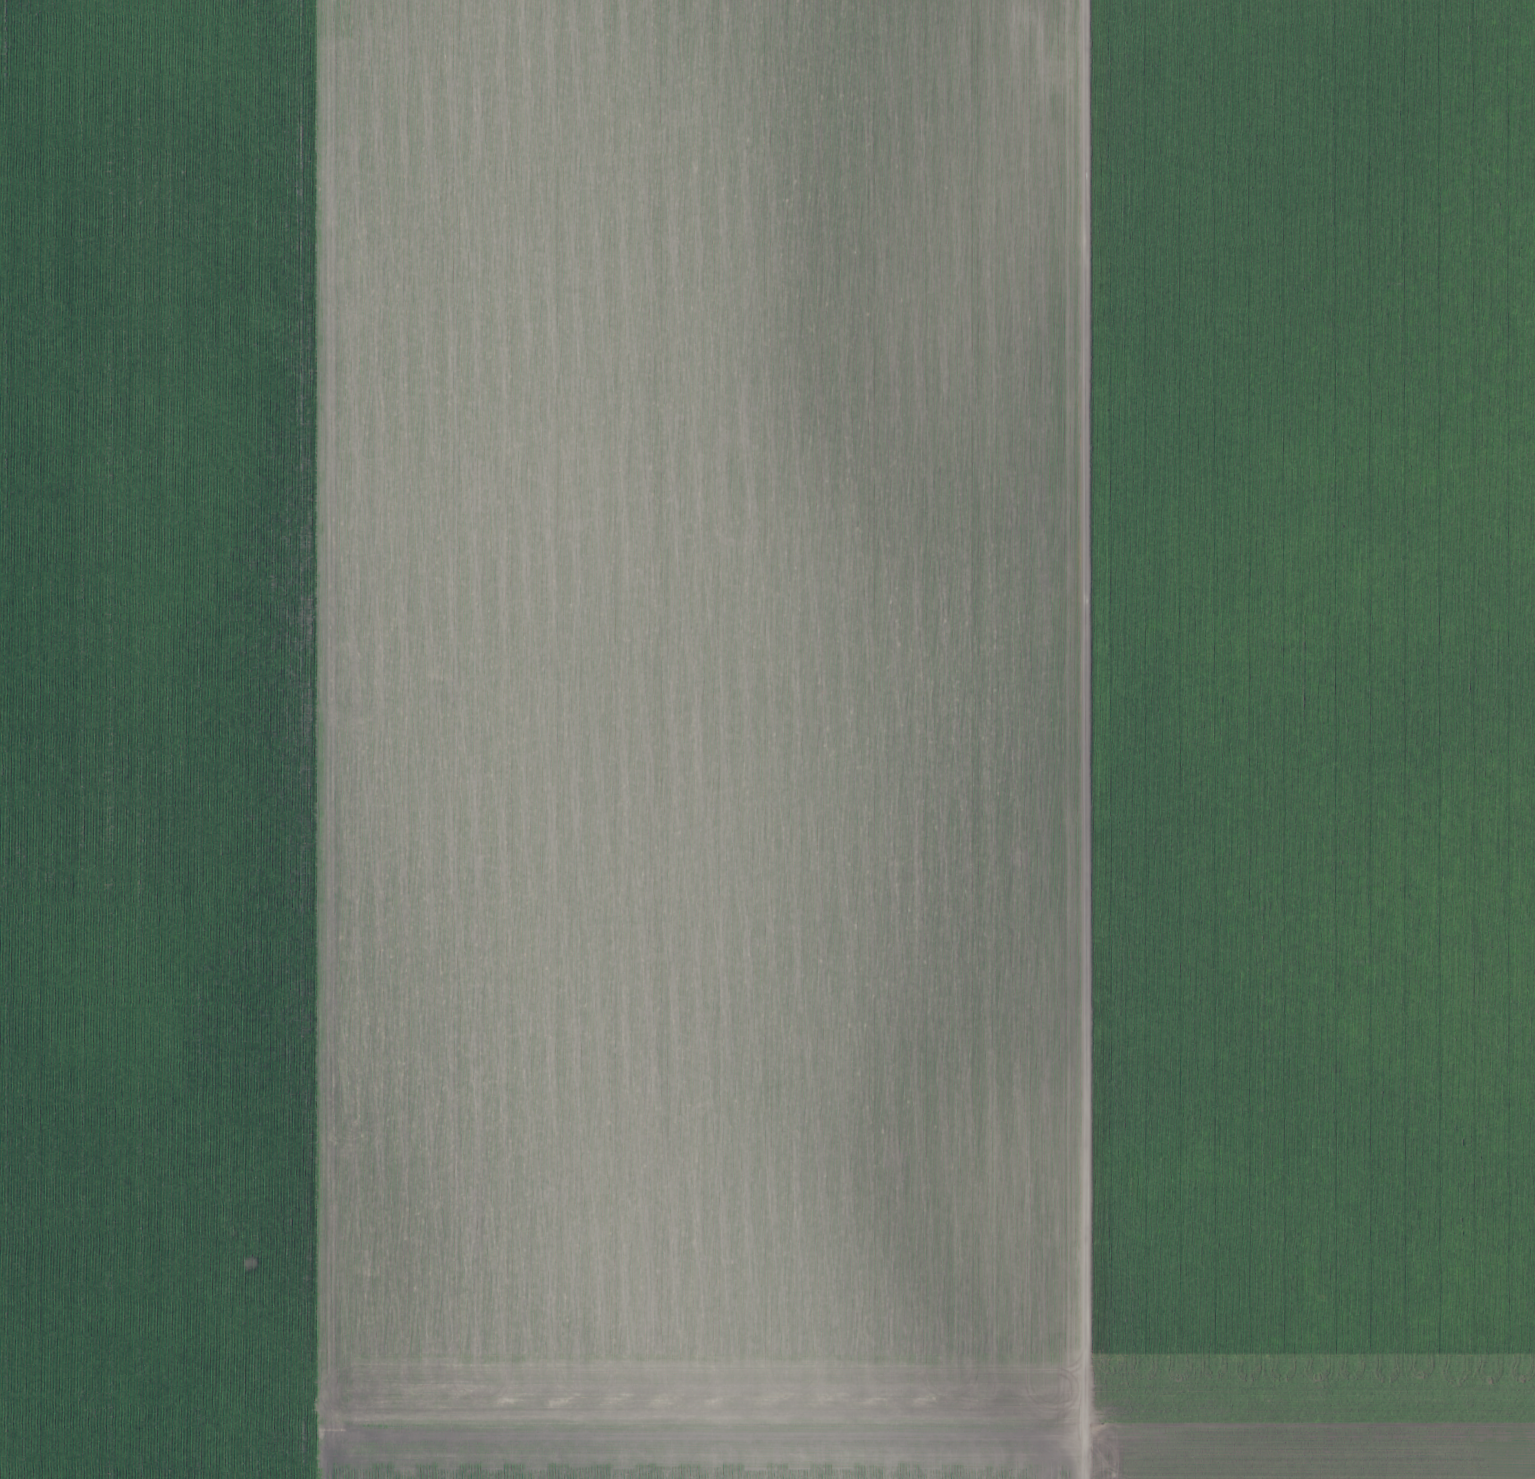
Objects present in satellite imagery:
road: (1099, 739)

